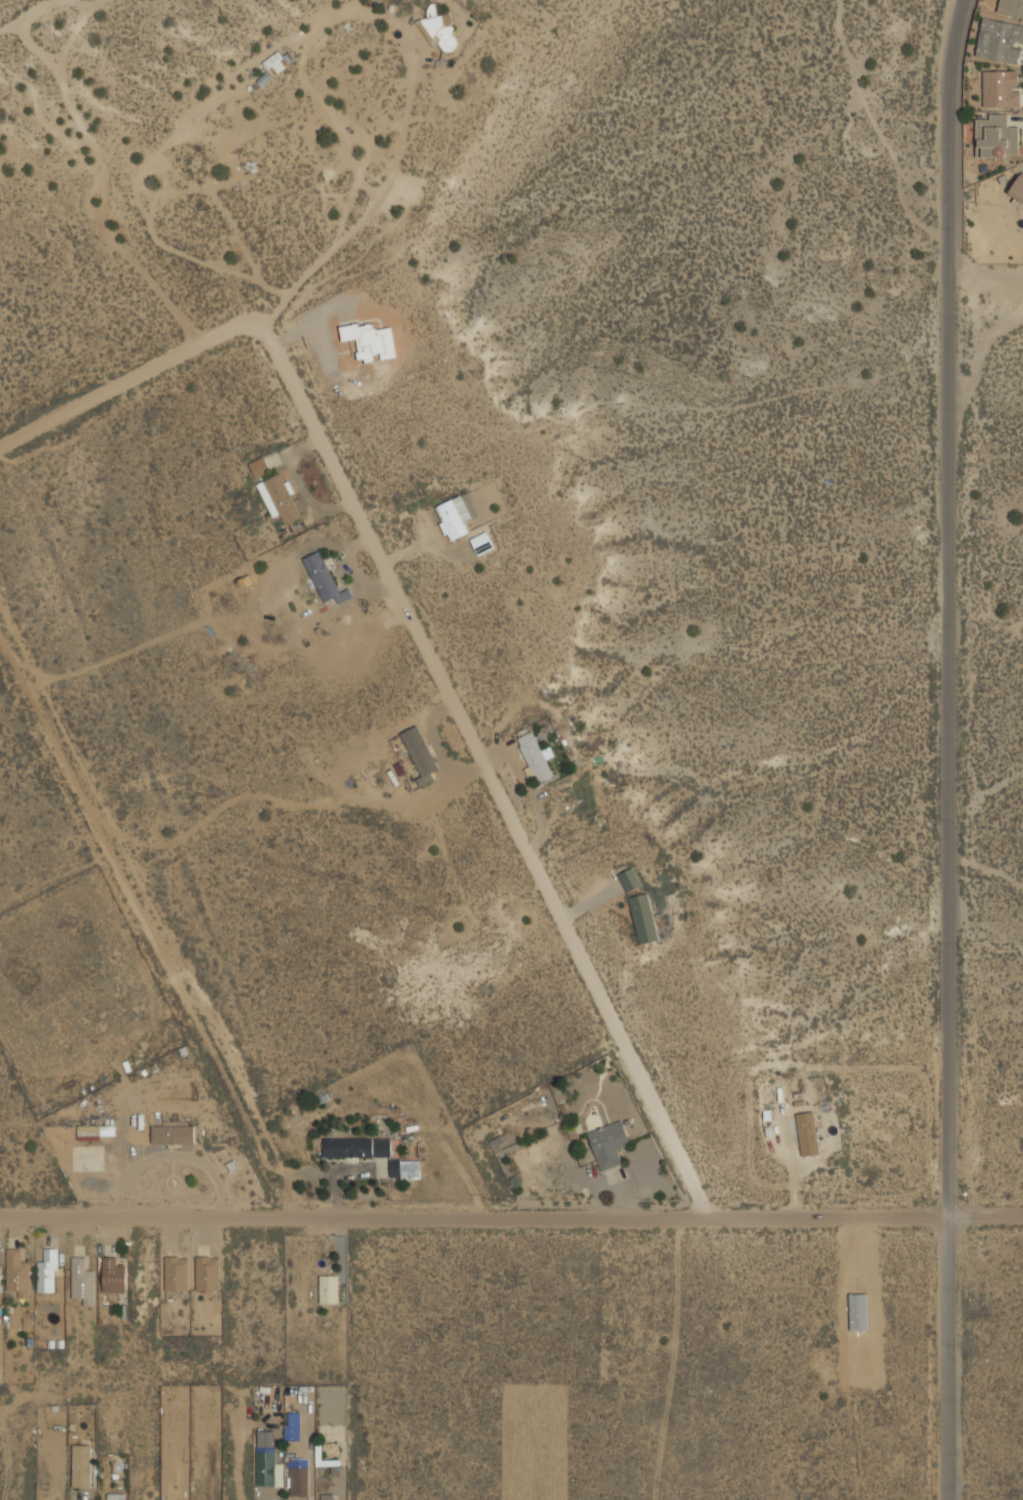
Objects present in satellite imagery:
building: (1011, 6)
road: (29, 14)
building: (439, 33)
building: (1000, 40)
road: (412, 52)
building: (276, 61)
building: (1001, 87)
building: (996, 135)
building: (1017, 189)
road: (985, 286)
road: (131, 383)
building: (260, 466)
building: (280, 497)
building: (454, 516)
building: (482, 543)
building: (324, 577)
road: (947, 749)
building: (420, 753)
building: (536, 755)
road: (489, 768)
building: (406, 804)
building: (629, 877)
building: (644, 917)
road: (147, 929)
building: (95, 1130)
building: (807, 1132)
building: (173, 1133)
building: (499, 1143)
building: (609, 1143)
building: (349, 1146)
building: (409, 1169)
road: (511, 1220)
building: (18, 1271)
building: (48, 1271)
building: (176, 1272)
building: (207, 1272)
building: (113, 1275)
building: (82, 1280)
building: (329, 1288)
building: (858, 1310)
building: (293, 1426)
building: (82, 1465)
building: (269, 1467)
building: (299, 1476)
road: (79, 1495)
building: (115, 1496)
building: (326, 1496)

